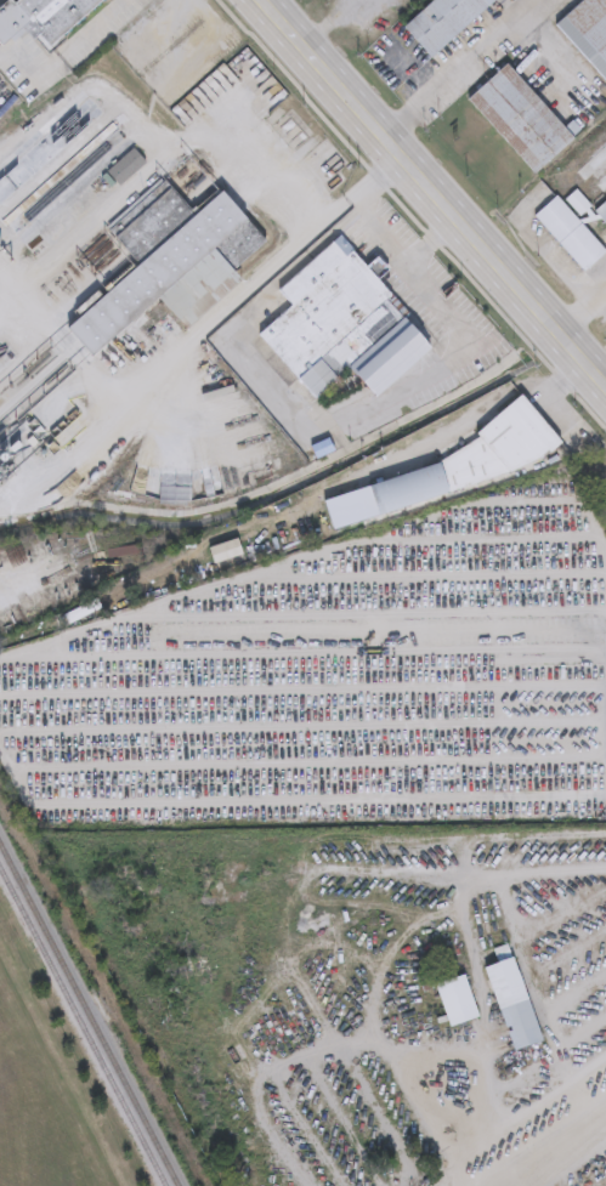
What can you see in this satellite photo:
road: (268, 2)
building: (44, 18)
road: (324, 21)
building: (441, 22)
building: (587, 33)
road: (66, 52)
road: (451, 66)
building: (519, 119)
road: (171, 151)
building: (126, 168)
road: (374, 176)
road: (431, 194)
road: (347, 200)
building: (601, 211)
building: (568, 234)
road: (397, 250)
road: (539, 251)
building: (171, 261)
road: (580, 311)
building: (332, 318)
road: (386, 396)
road: (468, 418)
building: (470, 460)
building: (67, 487)
road: (368, 532)
road: (311, 660)
road: (282, 821)
road: (266, 868)
road: (549, 870)
road: (529, 982)
building: (454, 1001)
building: (511, 1004)
railway: (89, 1015)
railway: (83, 1026)
road: (481, 1035)
road: (585, 1072)
road: (528, 1105)
road: (568, 1164)
road: (443, 1180)

